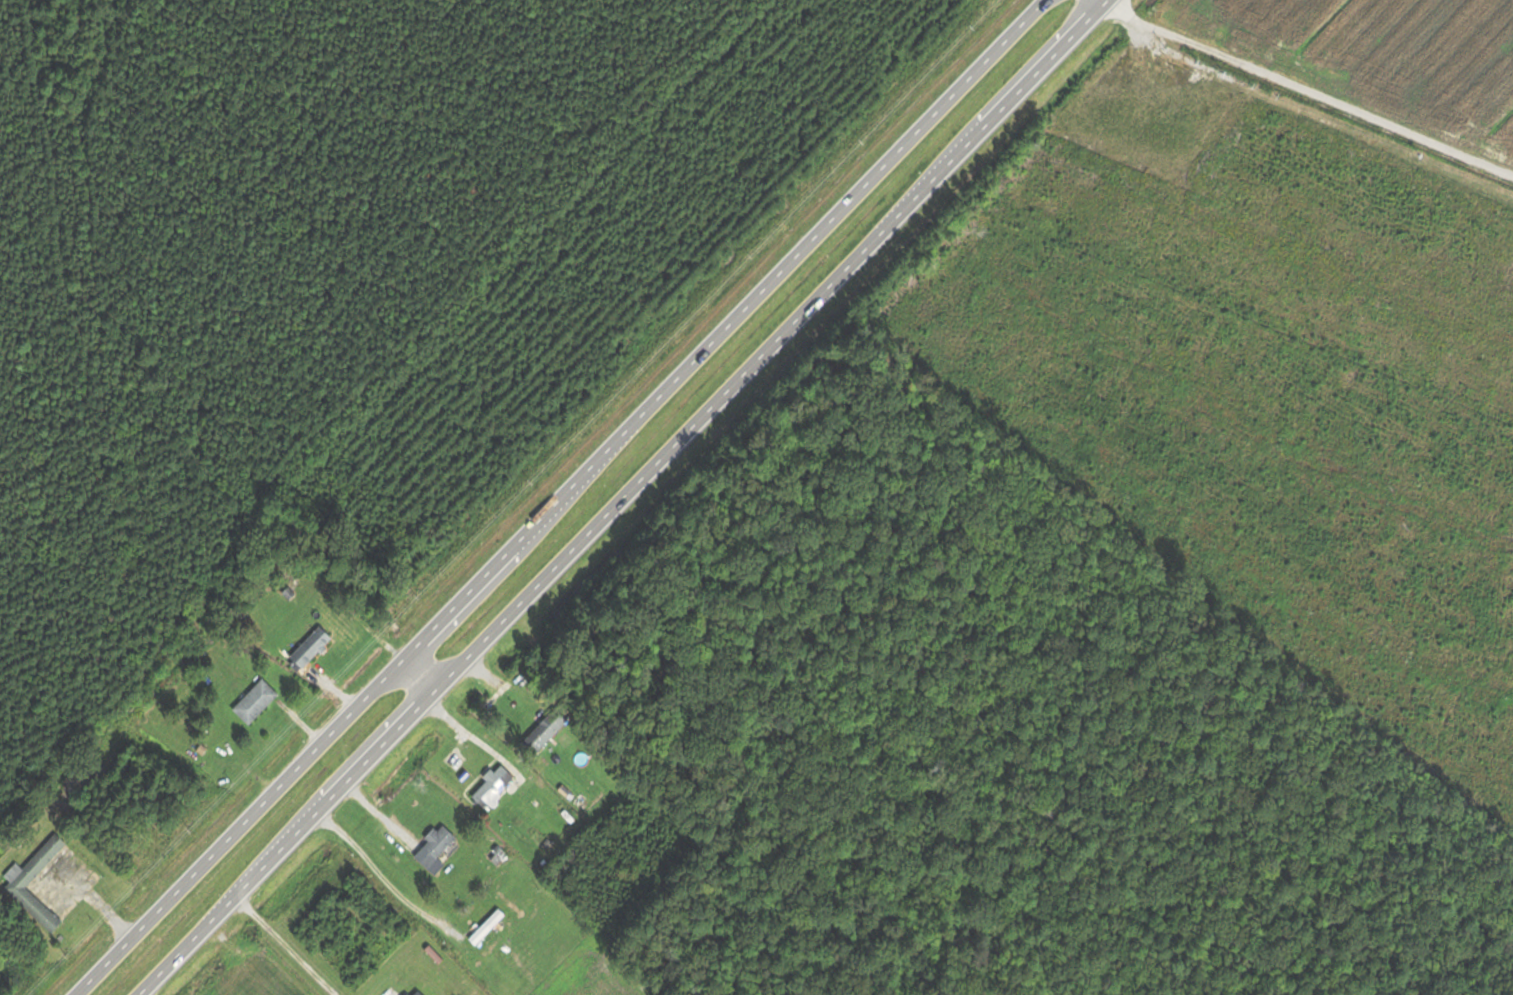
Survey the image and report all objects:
road: (1112, 2)
road: (558, 496)
road: (636, 498)
building: (315, 647)
building: (258, 702)
building: (546, 731)
building: (496, 786)
building: (151, 841)
building: (437, 845)
building: (20, 885)
building: (419, 992)

